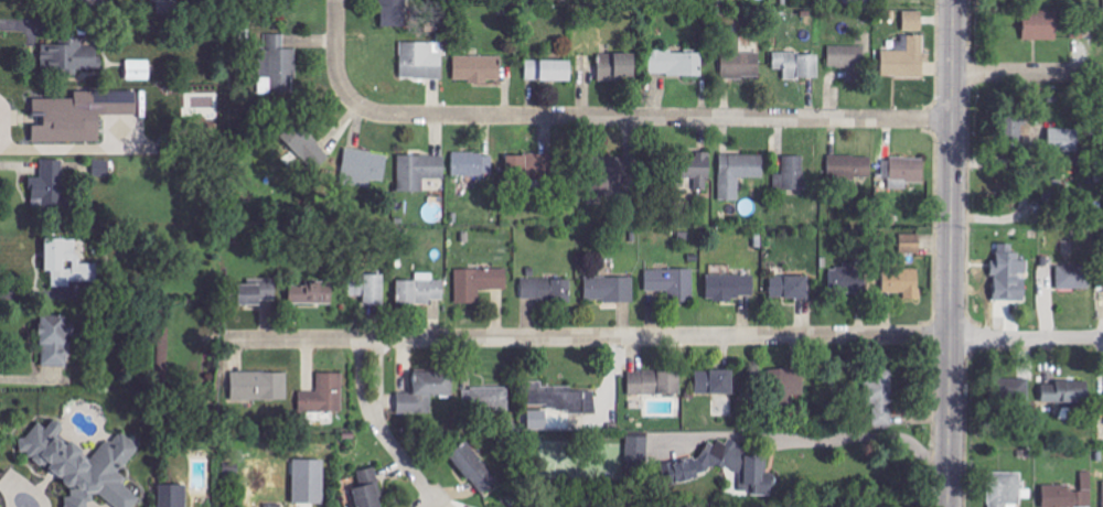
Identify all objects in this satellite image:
building: (84, 0)
building: (169, 7)
building: (394, 13)
building: (913, 21)
building: (1041, 24)
building: (69, 55)
road: (336, 55)
building: (906, 57)
building: (421, 60)
building: (854, 61)
building: (676, 63)
building: (280, 64)
building: (799, 65)
building: (618, 66)
building: (478, 68)
building: (139, 69)
building: (549, 69)
road: (1026, 73)
building: (79, 115)
road: (652, 117)
building: (1064, 140)
building: (472, 164)
building: (533, 166)
building: (101, 168)
building: (375, 168)
building: (850, 168)
building: (614, 169)
building: (697, 170)
building: (419, 171)
building: (904, 171)
building: (738, 173)
building: (792, 173)
building: (50, 185)
building: (1056, 188)
building: (910, 244)
road: (947, 253)
building: (67, 263)
building: (1010, 274)
building: (1074, 277)
building: (846, 279)
building: (479, 282)
building: (903, 282)
building: (673, 283)
building: (731, 287)
building: (791, 287)
building: (370, 289)
building: (610, 289)
building: (421, 290)
building: (546, 290)
building: (256, 291)
building: (310, 294)
road: (664, 336)
building: (56, 339)
building: (655, 382)
building: (716, 382)
building: (788, 384)
building: (260, 386)
building: (426, 391)
building: (1014, 391)
building: (1067, 392)
building: (324, 395)
building: (881, 396)
building: (486, 398)
building: (560, 398)
building: (538, 420)
road: (382, 431)
road: (849, 436)
building: (638, 449)
building: (85, 465)
building: (742, 465)
building: (474, 467)
building: (309, 482)
building: (370, 489)
building: (1006, 489)
building: (1070, 494)
building: (174, 495)

